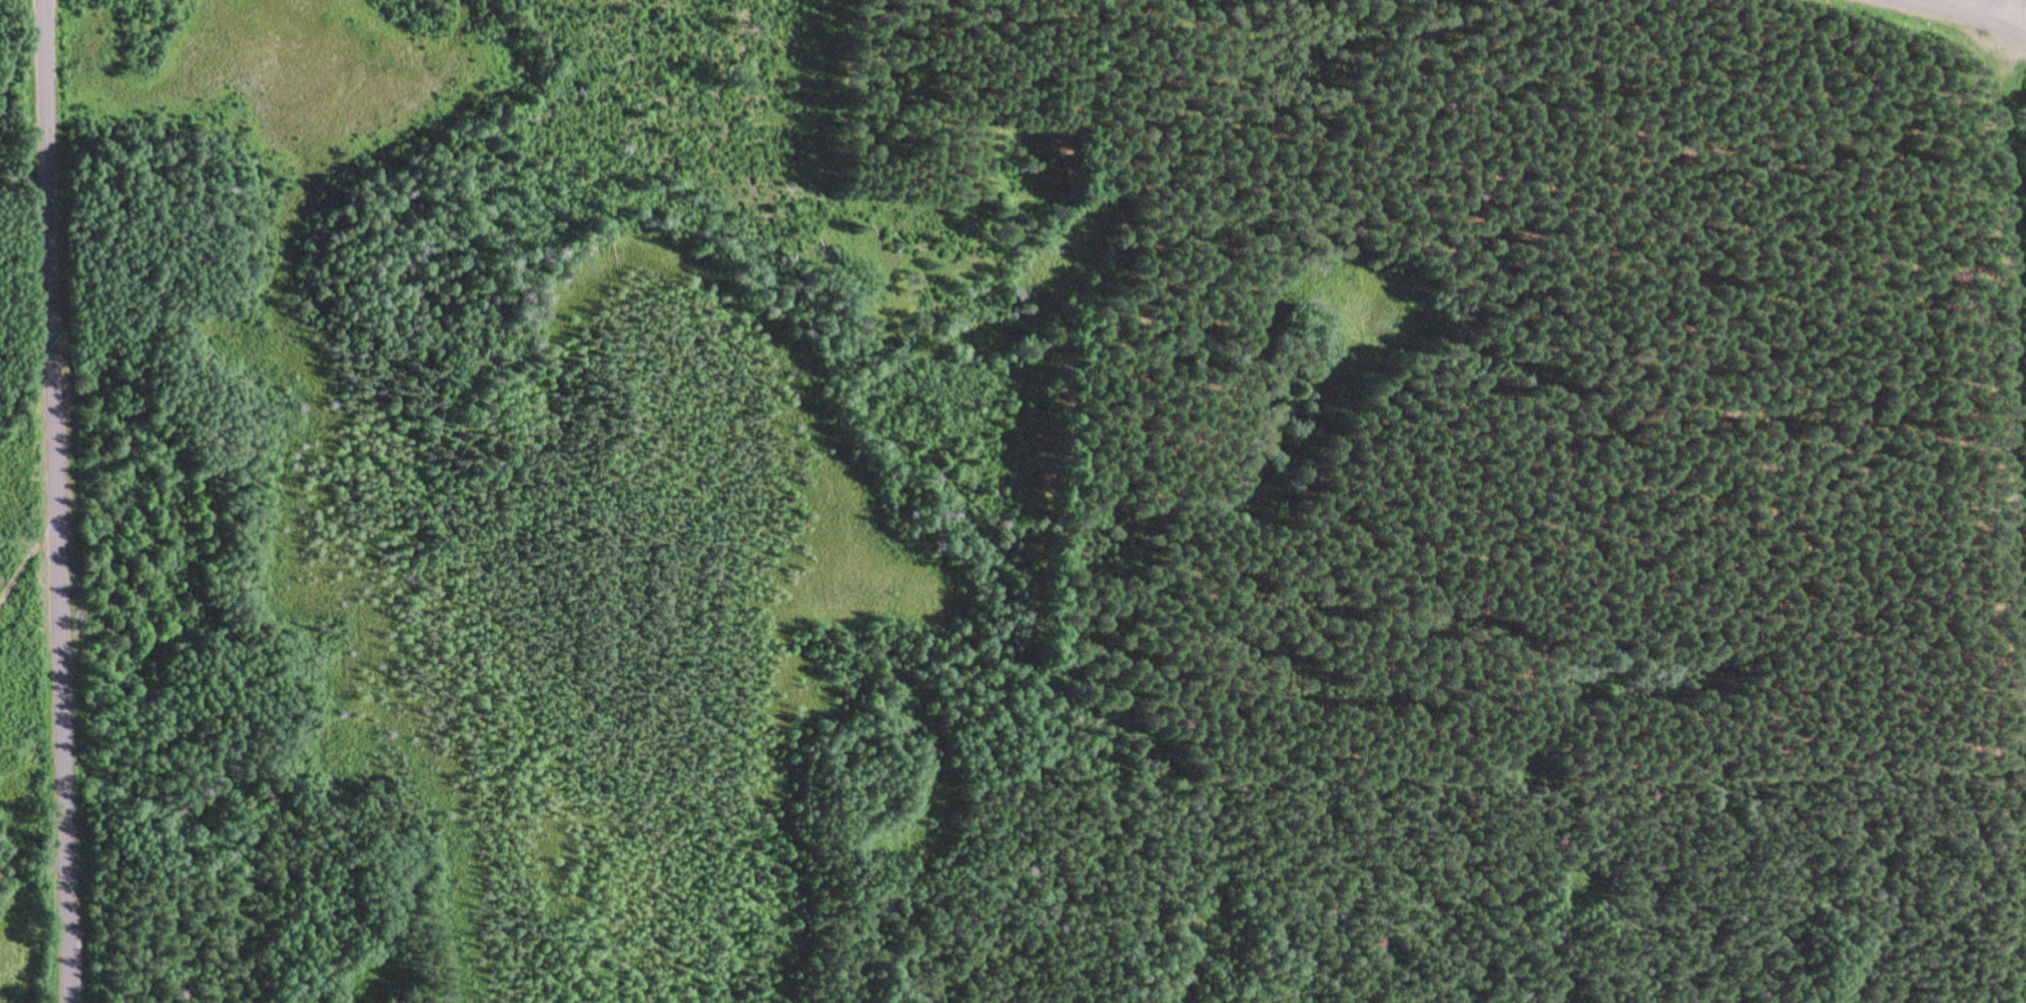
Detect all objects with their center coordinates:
road: (1965, 17)
road: (2020, 18)
road: (60, 501)
road: (34, 861)

